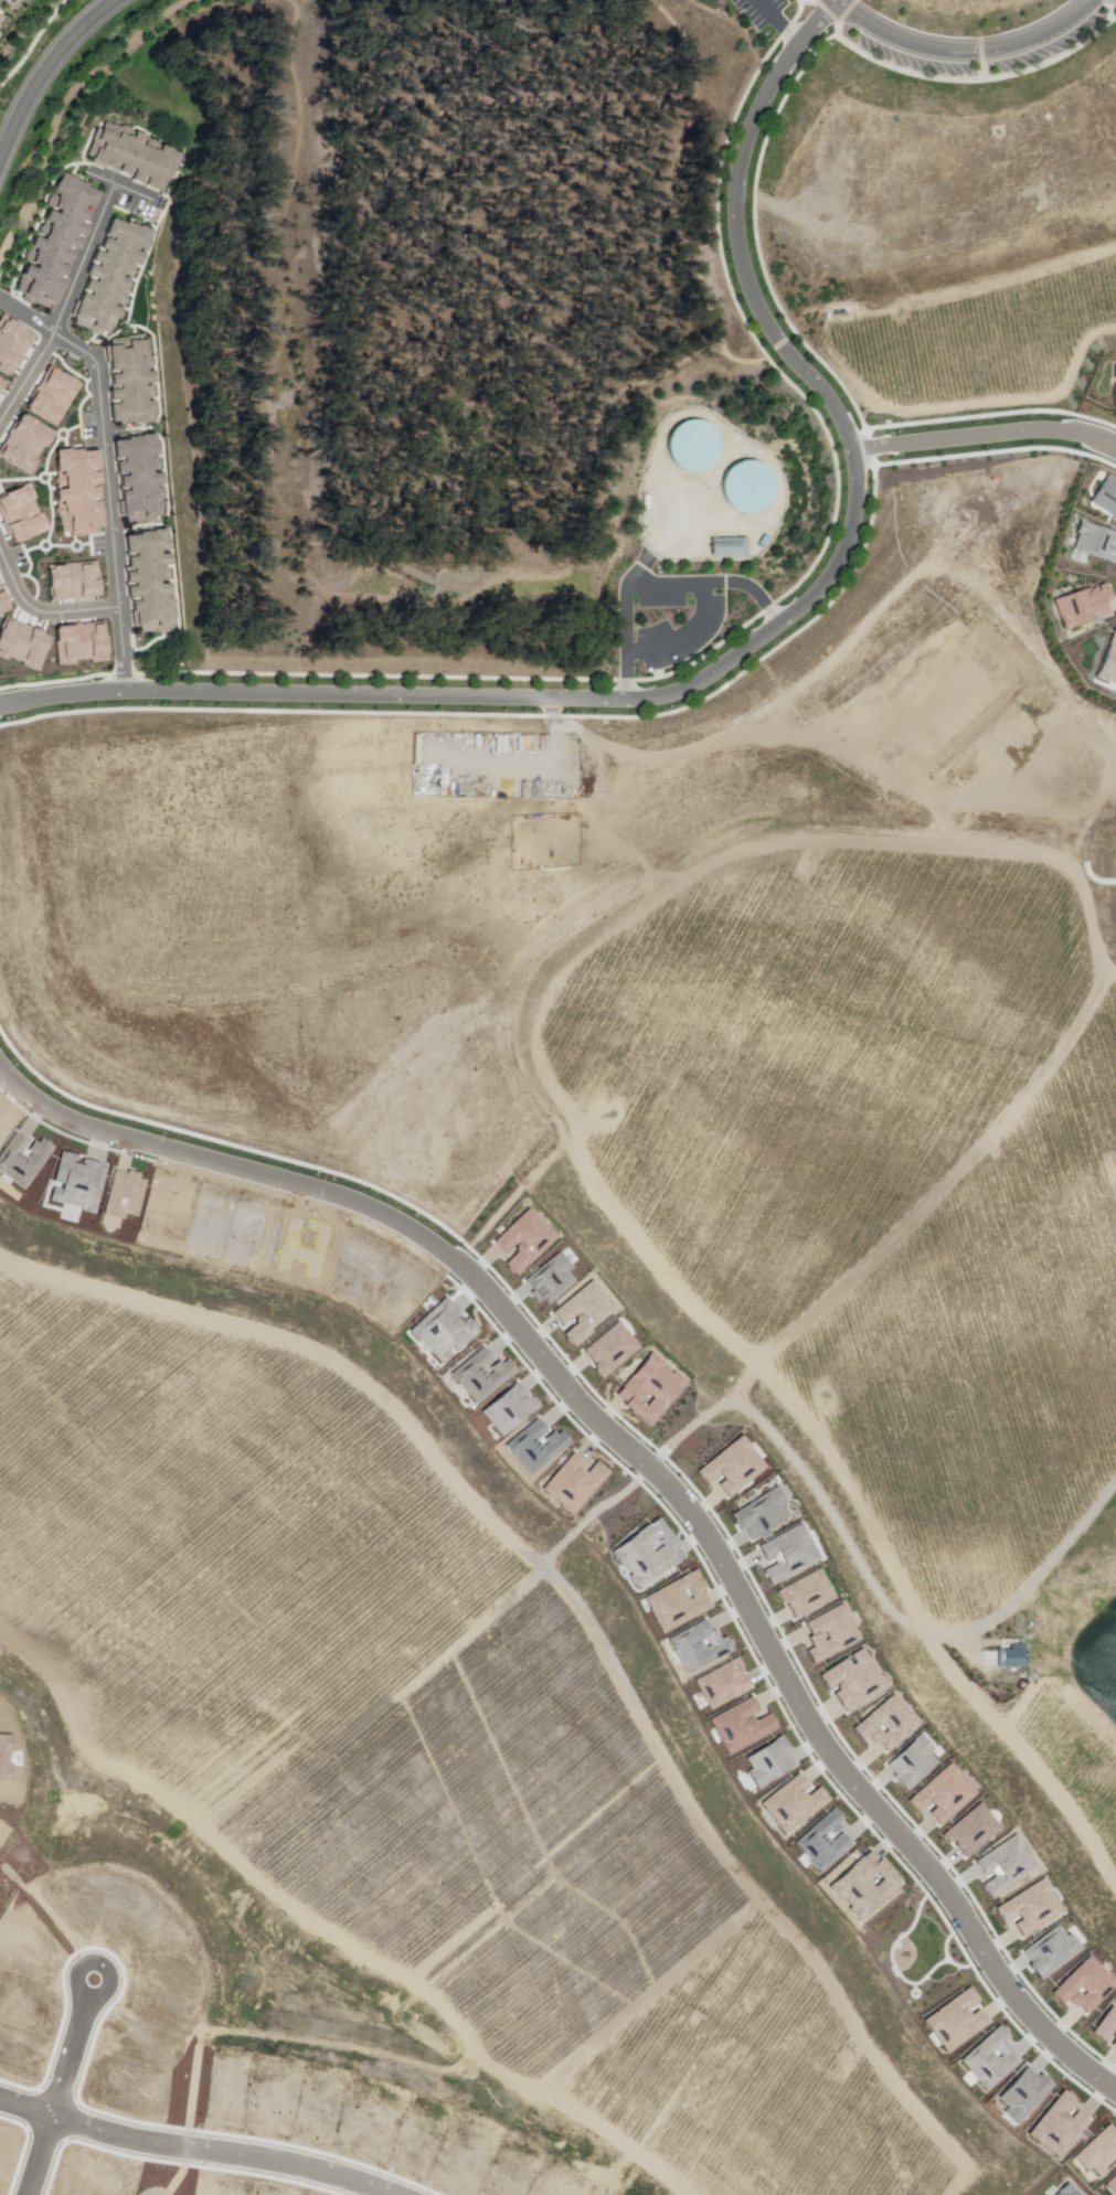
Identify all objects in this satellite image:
building: (11, 2)
parking lot: (763, 11)
building: (1, 20)
road: (777, 21)
road: (965, 50)
road: (46, 71)
building: (100, 145)
building: (113, 149)
building: (128, 153)
building: (144, 164)
building: (162, 170)
road: (119, 188)
building: (77, 191)
building: (68, 206)
road: (784, 209)
building: (65, 222)
building: (131, 234)
building: (59, 235)
building: (955, 236)
building: (52, 248)
building: (123, 249)
building: (46, 262)
building: (113, 262)
road: (79, 273)
building: (42, 276)
building: (109, 277)
building: (103, 287)
building: (35, 291)
building: (99, 296)
building: (97, 308)
road: (956, 320)
building: (91, 322)
building: (126, 348)
building: (11, 349)
parking lot: (11, 349)
building: (128, 364)
building: (129, 379)
building: (60, 392)
parking lot: (60, 392)
building: (1114, 393)
building: (125, 394)
building: (129, 413)
building: (26, 435)
parking lot: (26, 435)
road: (987, 441)
building: (136, 447)
building: (691, 447)
storage tank: (695, 447)
building: (76, 460)
building: (131, 465)
road: (104, 470)
building: (79, 477)
building: (140, 480)
building: (746, 488)
storage tank: (750, 488)
building: (81, 491)
building: (141, 493)
building: (1107, 494)
building: (81, 507)
building: (139, 511)
building: (83, 522)
building: (1095, 541)
building: (151, 542)
building: (731, 548)
building: (150, 561)
building: (142, 577)
road: (659, 584)
building: (148, 590)
building: (3, 601)
building: (1082, 604)
building: (150, 606)
parking lot: (669, 619)
building: (152, 624)
road: (689, 639)
building: (21, 641)
building: (82, 641)
road: (746, 651)
building: (1108, 659)
road: (648, 1460)
building: (1011, 1655)
building: (1031, 1908)
building: (1051, 1951)
building: (1086, 1986)
building: (1108, 2027)

